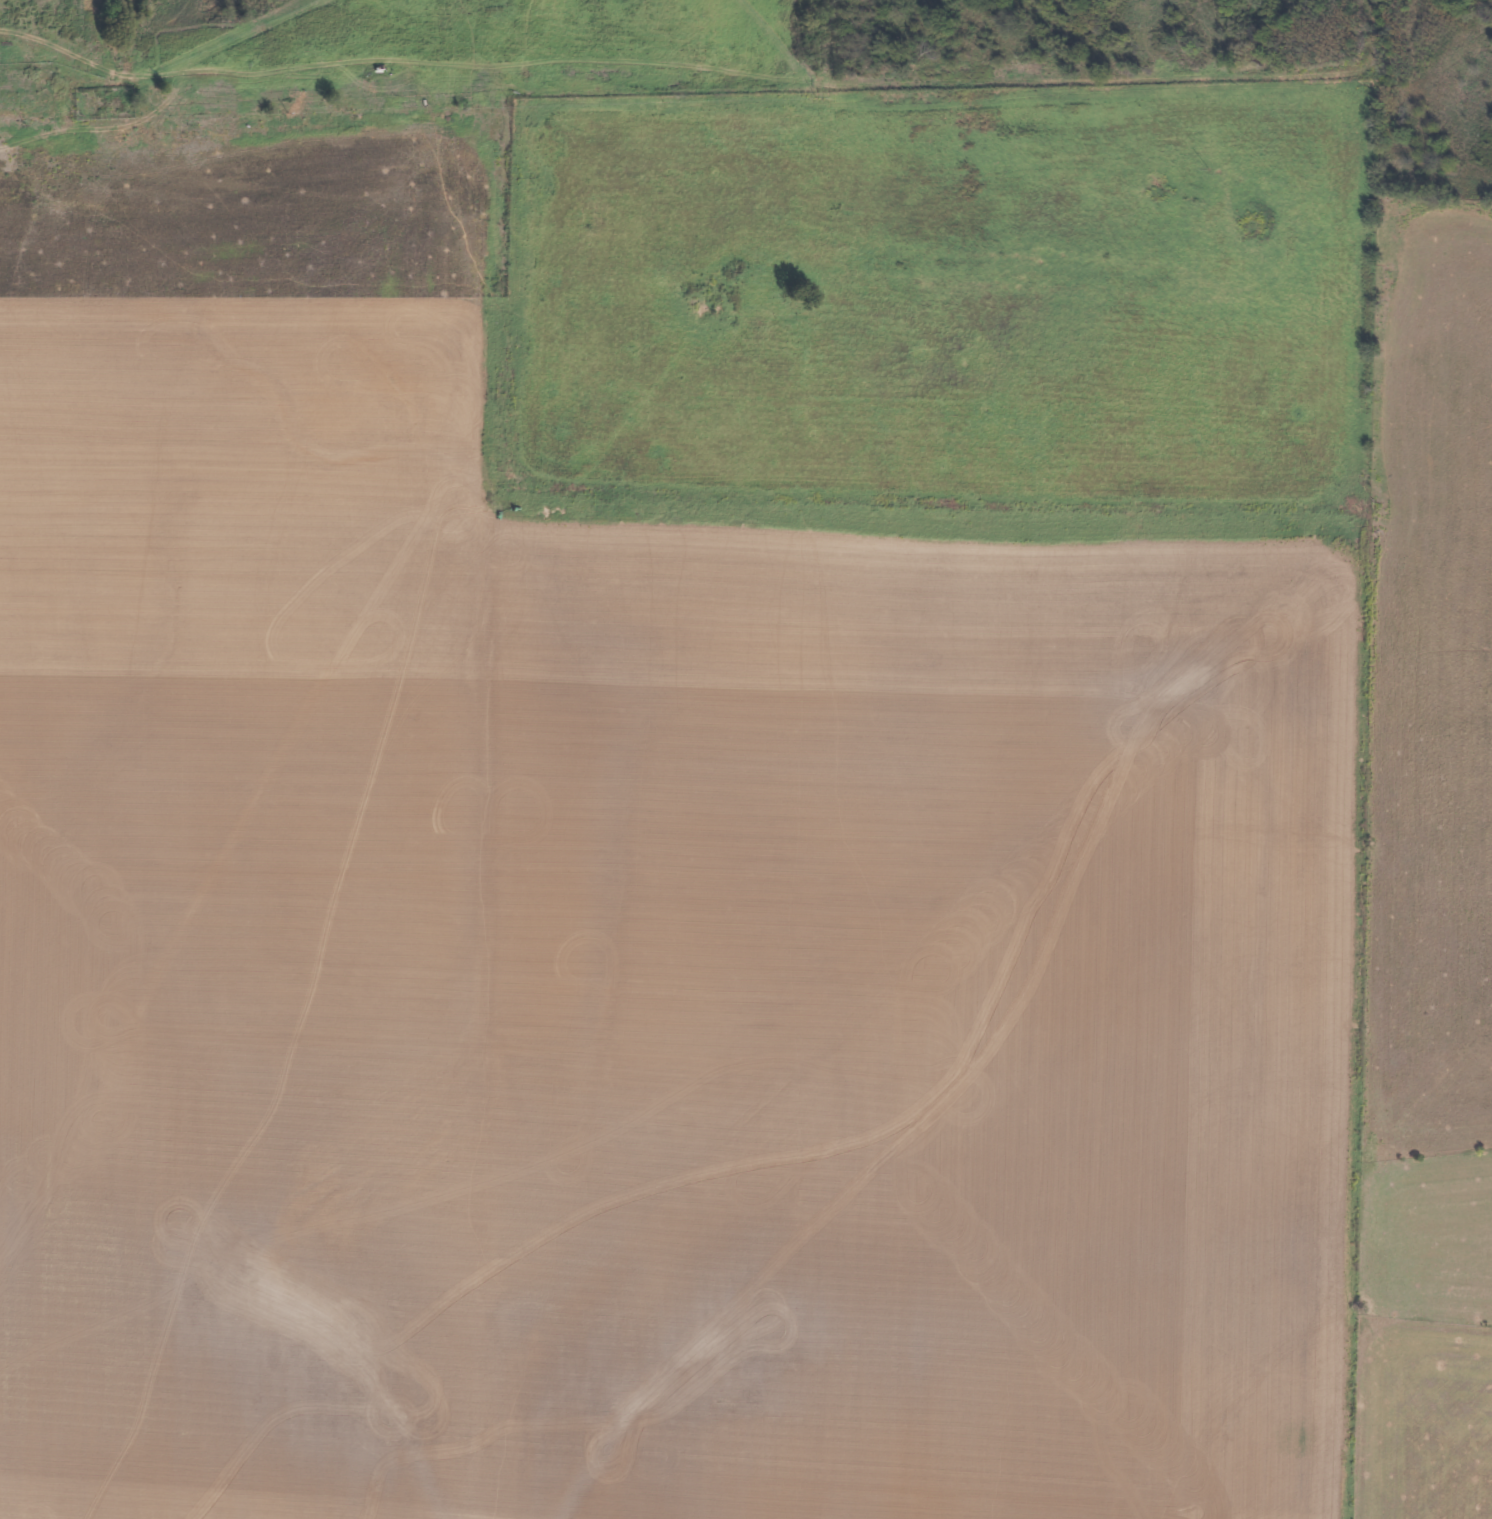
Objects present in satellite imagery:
road: (377, 151)
road: (892, 268)

